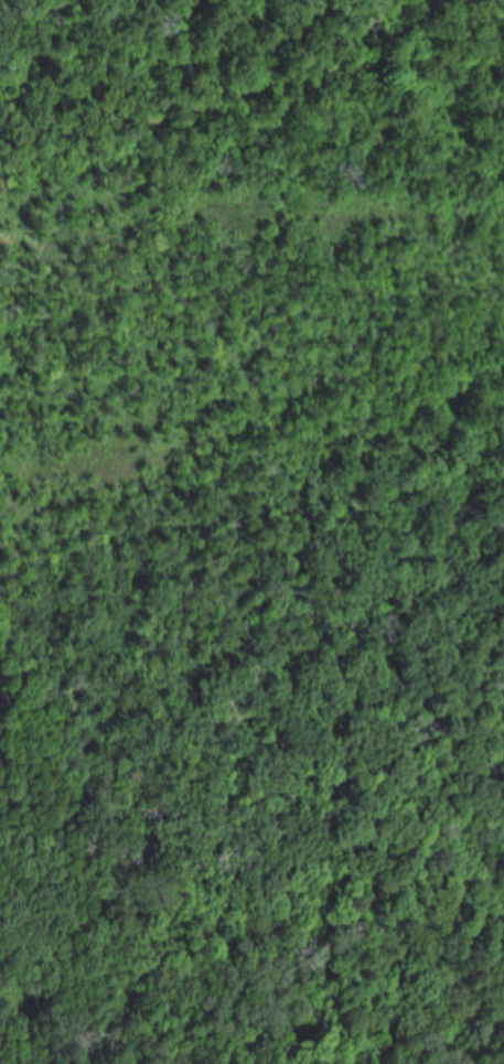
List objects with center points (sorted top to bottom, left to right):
road: (144, 34)
park: (232, 443)

